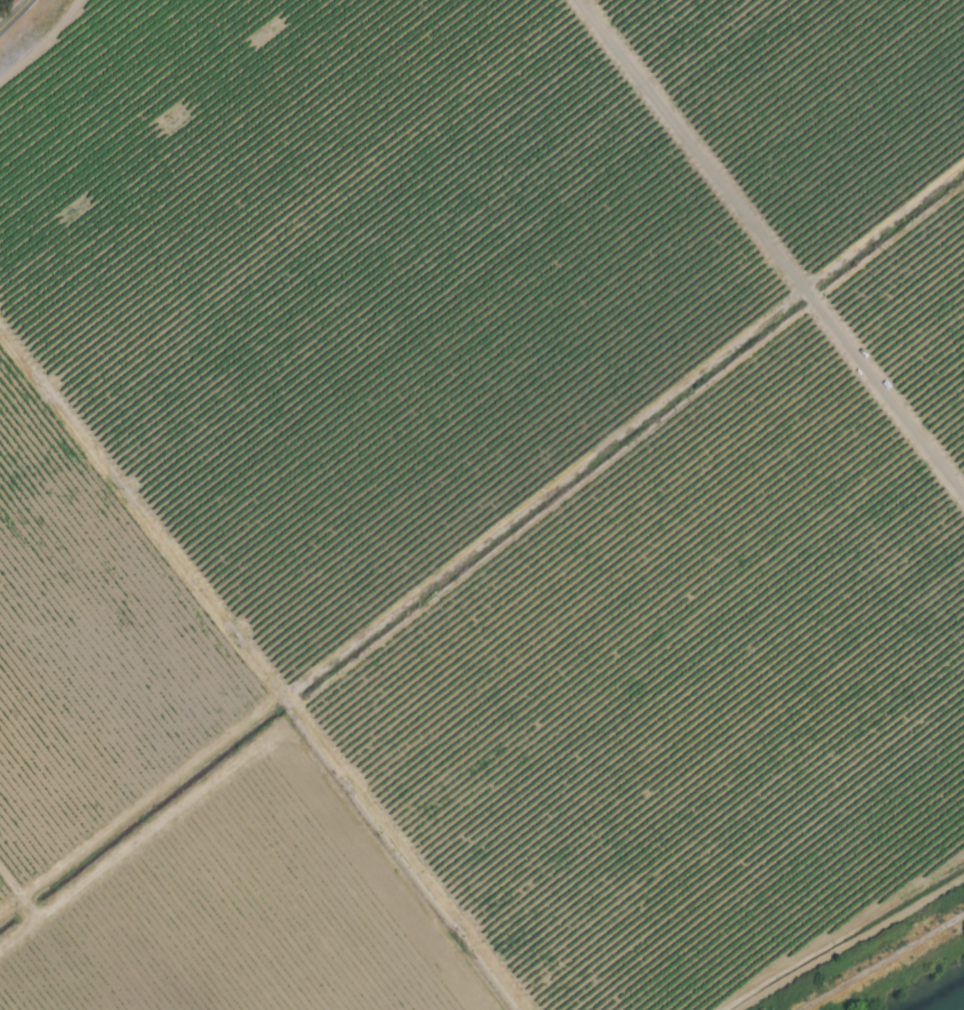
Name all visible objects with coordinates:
road: (15, 16)
road: (769, 249)
crop: (476, 498)
road: (882, 961)

